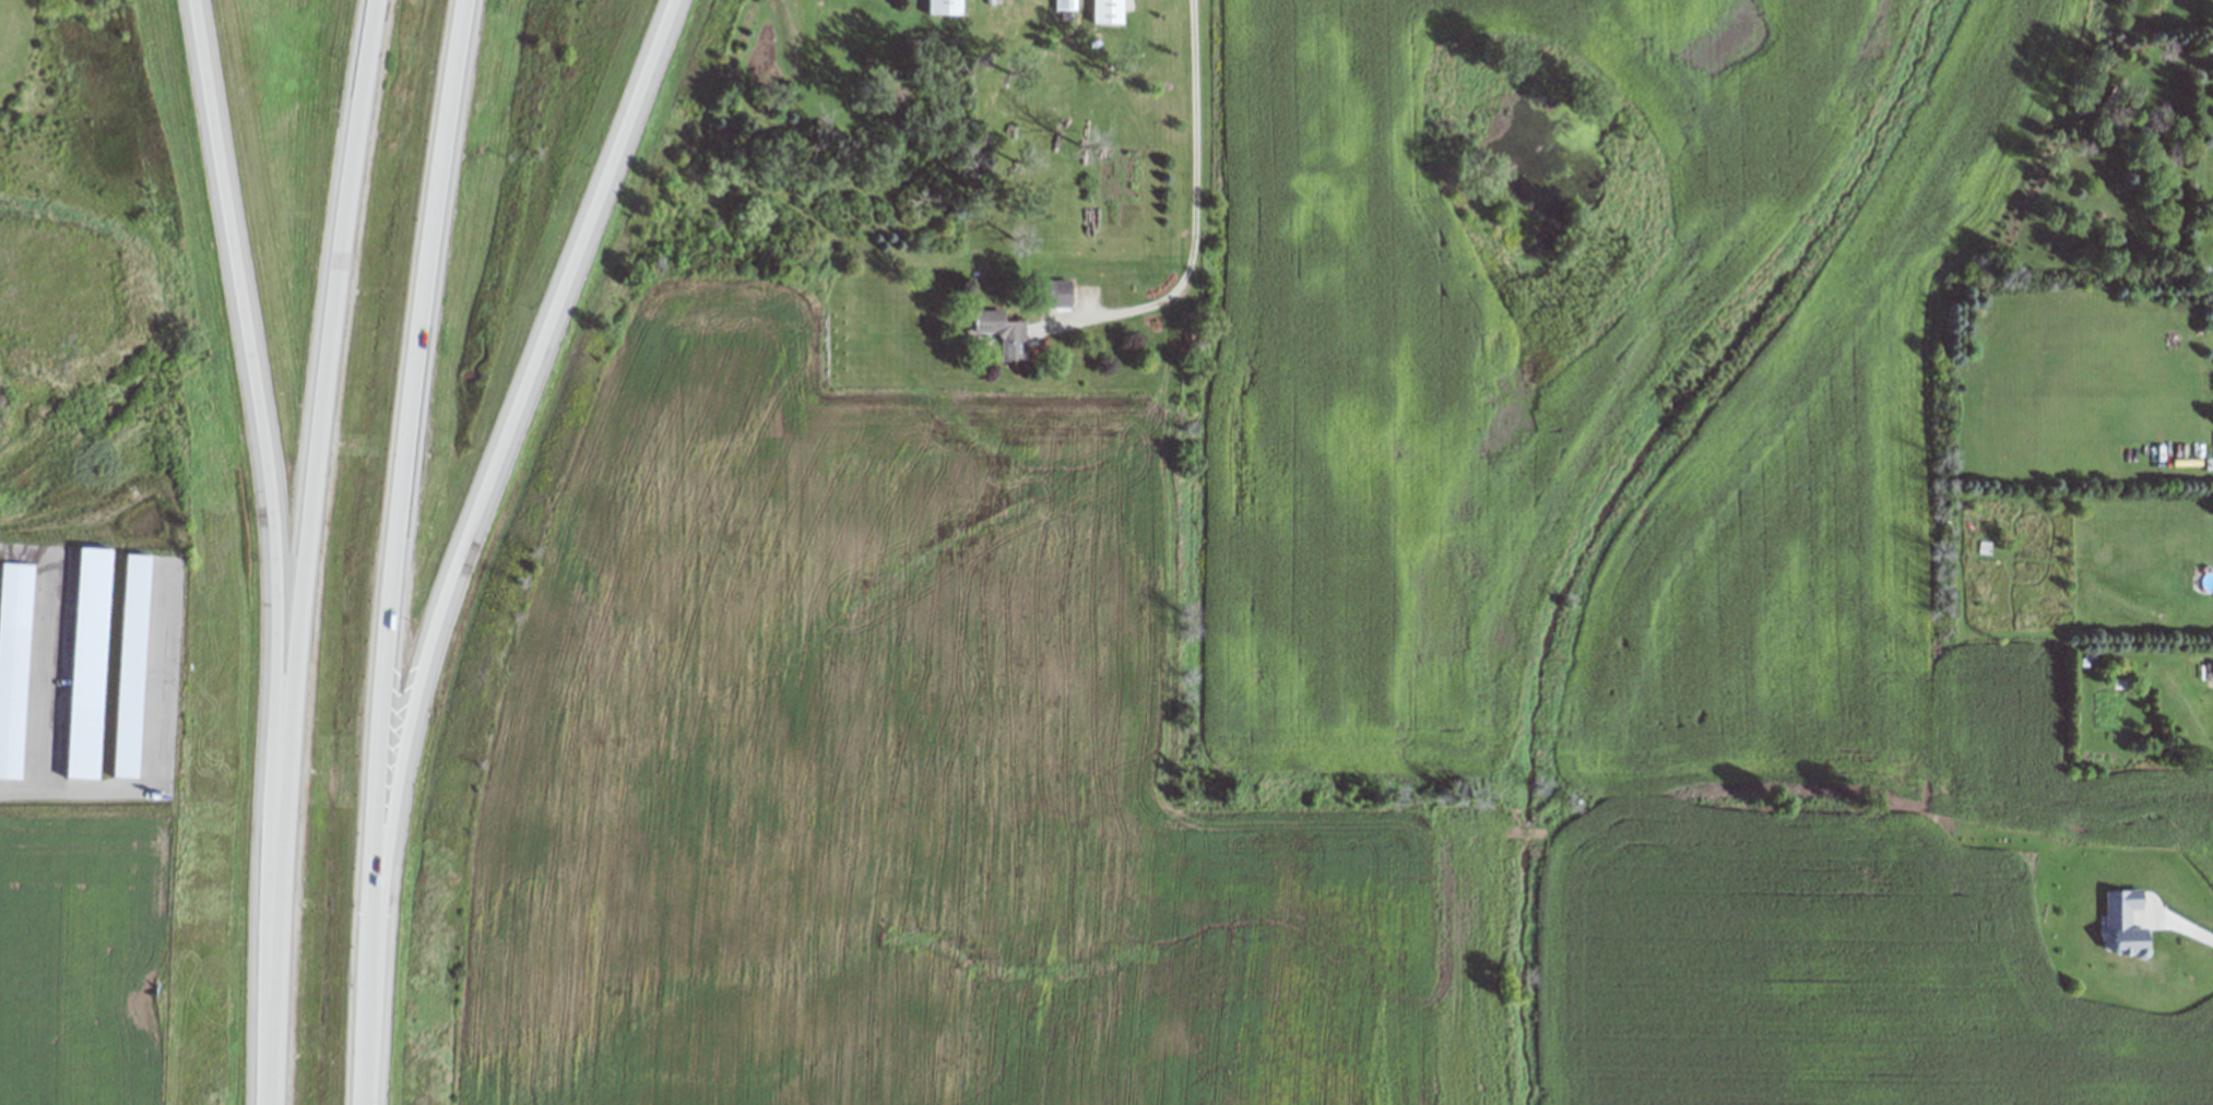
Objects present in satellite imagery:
building: (1062, 4)
building: (940, 8)
building: (1105, 9)
road: (1197, 197)
building: (1052, 293)
building: (998, 333)
road: (242, 338)
road: (536, 360)
road: (312, 550)
road: (421, 552)
road: (40, 787)
building: (2119, 922)
road: (2186, 925)

